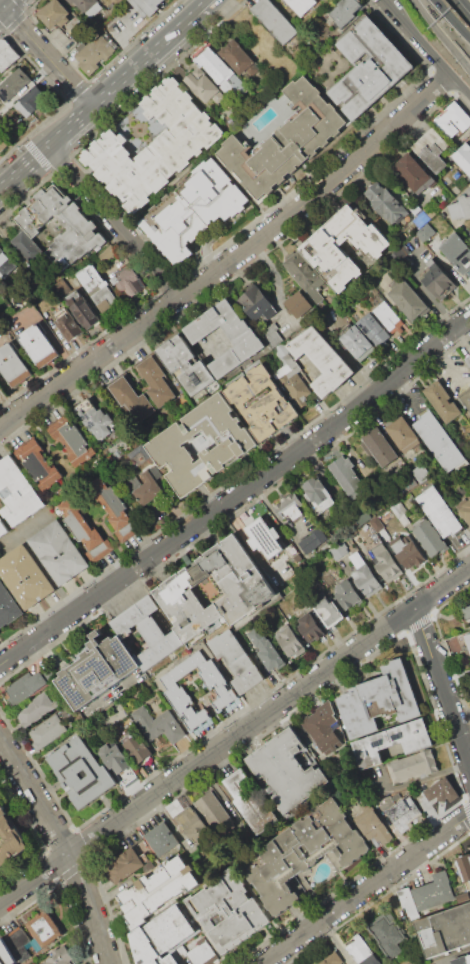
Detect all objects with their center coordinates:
road: (467, 3)
road: (8, 4)
road: (2, 5)
building: (85, 5)
building: (146, 6)
building: (302, 6)
traffic signals: (4, 8)
road: (2, 9)
building: (345, 10)
building: (53, 14)
road: (452, 18)
road: (401, 20)
building: (275, 21)
road: (115, 33)
road: (443, 33)
building: (95, 53)
road: (46, 55)
building: (7, 56)
building: (239, 57)
road: (444, 65)
building: (368, 67)
building: (221, 73)
building: (13, 83)
building: (202, 84)
road: (100, 92)
building: (32, 102)
building: (453, 119)
building: (288, 138)
building: (1, 146)
building: (153, 147)
building: (432, 150)
building: (463, 157)
building: (414, 173)
building: (387, 203)
building: (461, 206)
building: (189, 210)
road: (112, 220)
building: (62, 229)
building: (424, 232)
building: (16, 243)
building: (342, 247)
building: (458, 252)
road: (234, 258)
building: (5, 270)
building: (305, 277)
building: (129, 280)
building: (438, 282)
road: (274, 285)
building: (99, 289)
building: (409, 300)
building: (255, 302)
building: (296, 304)
building: (82, 311)
building: (386, 316)
building: (68, 324)
building: (373, 330)
building: (272, 334)
building: (224, 338)
building: (357, 342)
building: (38, 345)
road: (340, 349)
building: (468, 359)
building: (323, 361)
building: (183, 362)
building: (14, 365)
road: (444, 366)
building: (157, 381)
building: (0, 387)
building: (296, 387)
building: (466, 398)
building: (131, 400)
building: (441, 401)
building: (262, 403)
building: (100, 422)
building: (403, 434)
building: (72, 440)
building: (439, 440)
building: (202, 445)
building: (380, 447)
building: (38, 464)
building: (348, 477)
building: (151, 489)
building: (17, 492)
road: (237, 493)
building: (319, 495)
building: (398, 509)
building: (464, 509)
building: (116, 511)
building: (292, 511)
building: (440, 512)
road: (279, 521)
building: (376, 524)
building: (4, 527)
building: (84, 528)
building: (263, 538)
building: (431, 538)
building: (313, 541)
road: (463, 548)
building: (338, 550)
building: (59, 552)
building: (406, 552)
building: (385, 564)
building: (25, 576)
building: (364, 576)
building: (249, 589)
building: (347, 594)
building: (7, 608)
building: (328, 612)
building: (467, 612)
building: (309, 627)
building: (149, 632)
building: (467, 641)
building: (290, 643)
building: (265, 649)
building: (237, 661)
building: (98, 668)
road: (443, 686)
building: (25, 688)
building: (176, 695)
building: (381, 699)
building: (36, 709)
building: (160, 724)
building: (322, 729)
building: (47, 732)
road: (235, 738)
building: (393, 742)
building: (138, 748)
building: (114, 757)
building: (412, 767)
building: (287, 770)
building: (81, 771)
road: (413, 781)
building: (442, 789)
building: (250, 802)
building: (213, 814)
building: (404, 814)
building: (193, 826)
building: (375, 827)
building: (162, 838)
building: (10, 839)
road: (65, 845)
building: (302, 852)
building: (124, 865)
building: (463, 871)
building: (157, 889)
road: (365, 889)
building: (435, 891)
building: (407, 901)
building: (227, 910)
building: (44, 929)
building: (445, 931)
building: (161, 935)
building: (388, 937)
building: (19, 944)
building: (200, 951)
building: (5, 953)
building: (361, 953)
building: (61, 956)
building: (332, 959)
building: (461, 960)

